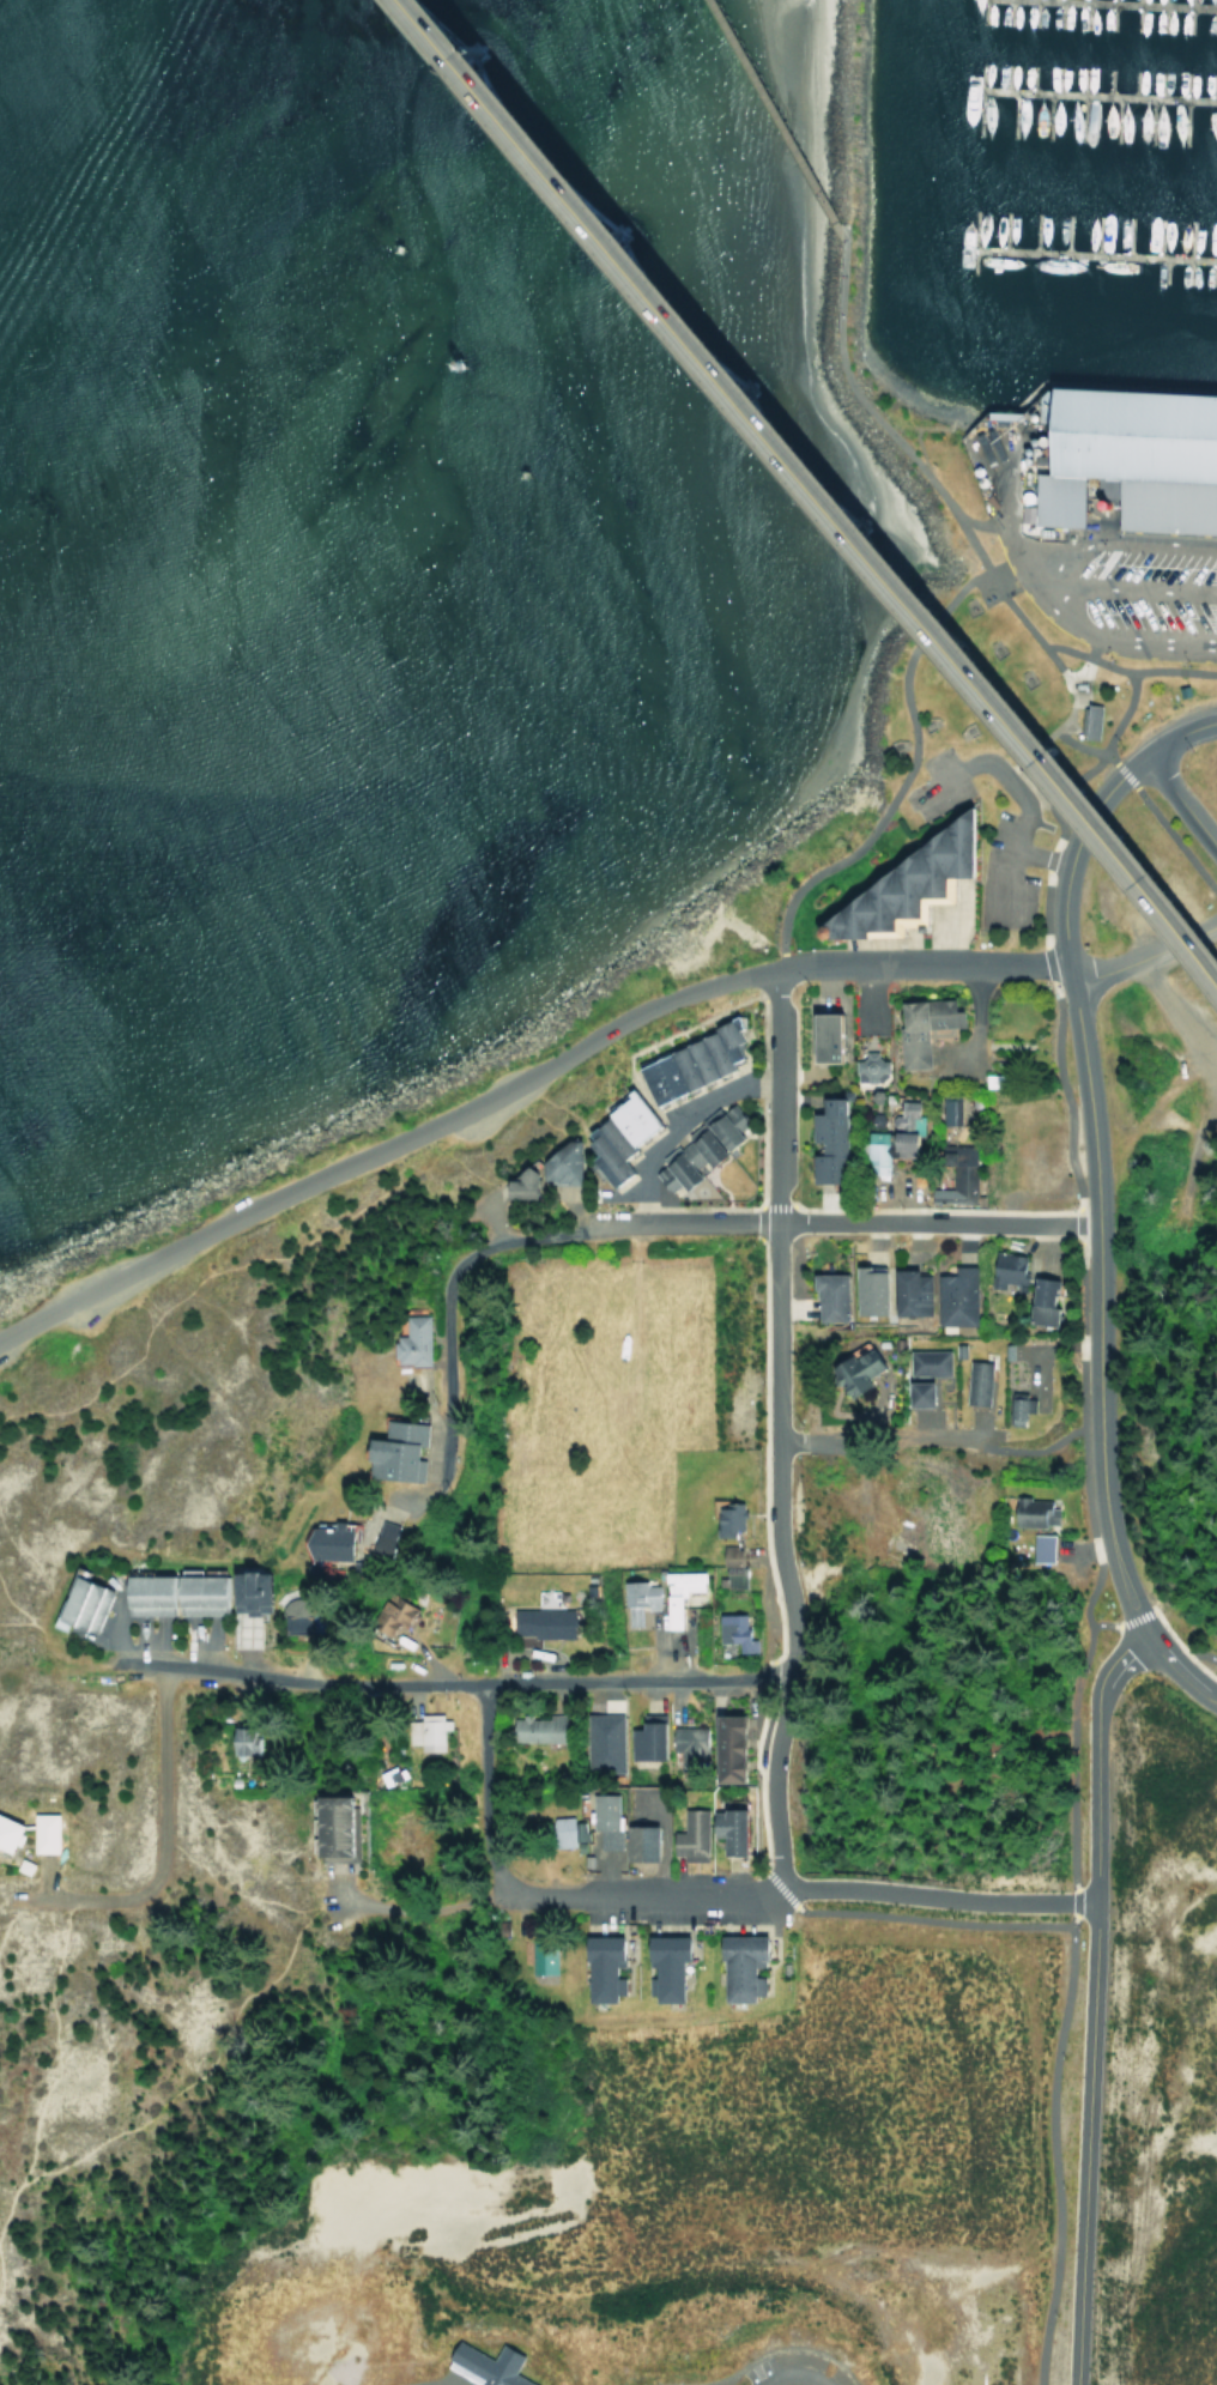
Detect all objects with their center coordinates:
pier: (1148, 2)
pier: (1098, 92)
pier: (775, 121)
pier: (1095, 253)
road: (876, 416)
building: (1126, 456)
road: (824, 480)
road: (817, 490)
road: (810, 501)
road: (1114, 544)
road: (958, 588)
road: (1124, 589)
road: (1213, 594)
road: (1067, 616)
road: (926, 629)
road: (1059, 667)
road: (1127, 672)
building: (1090, 721)
road: (1110, 731)
road: (1058, 789)
road: (1015, 792)
road: (1180, 803)
road: (1089, 813)
road: (877, 819)
road: (1161, 821)
road: (1039, 855)
building: (900, 883)
road: (1205, 927)
road: (1180, 940)
road: (924, 963)
road: (1118, 963)
road: (1179, 1004)
building: (920, 1025)
building: (819, 1037)
building: (684, 1061)
building: (865, 1069)
building: (950, 1107)
building: (719, 1125)
building: (614, 1136)
building: (822, 1142)
road: (387, 1146)
building: (680, 1162)
building: (552, 1163)
building: (956, 1174)
building: (510, 1184)
road: (779, 1219)
building: (1001, 1269)
building: (864, 1291)
building: (904, 1293)
building: (946, 1297)
building: (824, 1299)
building: (1036, 1301)
building: (423, 1342)
road: (448, 1345)
road: (1096, 1355)
building: (921, 1363)
building: (852, 1374)
building: (971, 1384)
building: (909, 1394)
building: (1012, 1405)
road: (776, 1427)
road: (885, 1436)
road: (1016, 1448)
building: (413, 1449)
road: (435, 1484)
building: (1031, 1513)
building: (728, 1518)
building: (394, 1538)
building: (340, 1543)
building: (1037, 1549)
building: (726, 1567)
road: (1088, 1591)
building: (198, 1592)
building: (659, 1598)
building: (89, 1603)
building: (402, 1609)
road: (1160, 1621)
building: (545, 1622)
building: (727, 1632)
road: (1194, 1651)
road: (75, 1658)
road: (477, 1681)
building: (534, 1729)
building: (424, 1732)
building: (249, 1739)
building: (648, 1739)
building: (603, 1743)
building: (682, 1747)
road: (482, 1788)
building: (343, 1828)
building: (731, 1829)
building: (561, 1832)
building: (12, 1833)
building: (47, 1833)
road: (157, 1835)
building: (690, 1836)
building: (643, 1844)
road: (800, 1885)
road: (424, 1905)
building: (543, 1959)
building: (671, 1965)
building: (741, 1967)
building: (606, 1968)
road: (1091, 2000)
road: (54, 2062)
road: (202, 2069)
road: (765, 2351)
building: (490, 2365)
road: (792, 2374)
road: (429, 2384)

